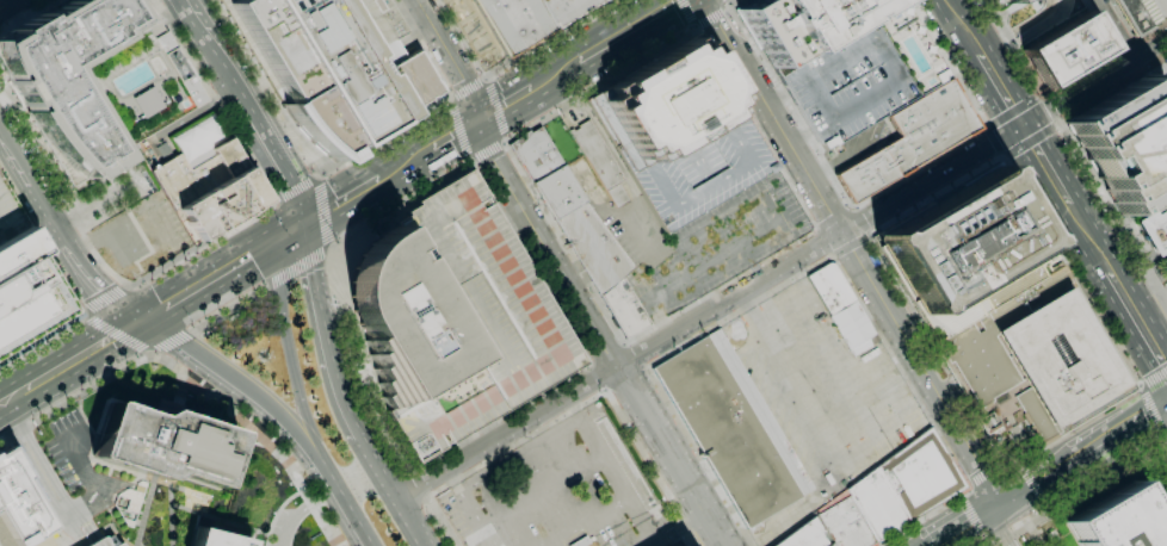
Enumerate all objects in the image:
building: (607, 0)
building: (1012, 1)
road: (729, 2)
road: (10, 6)
building: (1159, 7)
road: (727, 8)
road: (1116, 8)
building: (568, 10)
building: (1148, 11)
road: (687, 12)
road: (26, 15)
building: (1132, 15)
road: (709, 18)
flagpole: (1159, 21)
building: (517, 23)
road: (1099, 25)
flagpole: (1151, 25)
road: (964, 26)
road: (693, 27)
road: (1128, 27)
building: (478, 30)
road: (630, 30)
road: (1023, 30)
road: (1116, 30)
road: (1151, 30)
road: (1136, 39)
road: (1142, 39)
road: (1157, 44)
road: (1126, 48)
road: (420, 49)
building: (1067, 49)
road: (1148, 49)
road: (1017, 50)
building: (172, 52)
road: (1116, 52)
road: (1141, 54)
road: (451, 57)
building: (845, 60)
road: (1155, 60)
road: (1162, 61)
road: (511, 62)
building: (1166, 63)
parking lot: (1166, 63)
building: (333, 66)
road: (1153, 68)
road: (1130, 72)
road: (556, 74)
building: (63, 75)
road: (1075, 75)
road: (483, 79)
road: (486, 80)
road: (1001, 88)
road: (469, 89)
building: (1162, 93)
road: (1104, 95)
road: (212, 100)
road: (450, 100)
building: (146, 103)
road: (506, 104)
road: (252, 108)
road: (495, 108)
road: (1050, 110)
road: (1011, 112)
traffic signals: (480, 119)
traffic signals: (1023, 125)
road: (986, 126)
road: (459, 129)
road: (456, 134)
building: (680, 134)
building: (912, 139)
road: (992, 139)
road: (505, 141)
road: (1030, 142)
building: (1125, 143)
road: (504, 145)
road: (488, 153)
building: (535, 154)
road: (307, 155)
road: (1005, 156)
road: (470, 159)
road: (473, 161)
building: (600, 161)
road: (406, 162)
road: (1046, 165)
parking lot: (704, 170)
road: (317, 176)
road: (320, 176)
building: (209, 179)
road: (33, 182)
road: (297, 188)
building: (557, 191)
road: (877, 192)
railway: (336, 199)
railway: (336, 199)
road: (342, 199)
road: (97, 203)
road: (1147, 206)
road: (851, 207)
road: (1111, 210)
road: (321, 211)
building: (10, 215)
parking lot: (10, 215)
flagpole: (239, 217)
road: (833, 218)
flagpole: (233, 221)
road: (1123, 221)
traffic signals: (305, 222)
road: (858, 222)
flagpole: (226, 225)
road: (814, 228)
road: (816, 229)
building: (1151, 230)
road: (867, 235)
road: (1089, 237)
road: (1132, 241)
traffic signals: (271, 242)
road: (823, 242)
road: (850, 244)
road: (329, 247)
building: (593, 247)
road: (853, 252)
building: (965, 253)
road: (327, 256)
road: (832, 258)
road: (1146, 260)
road: (1154, 260)
road: (234, 263)
road: (883, 263)
road: (104, 265)
road: (295, 269)
road: (1160, 269)
road: (813, 271)
road: (1150, 272)
road: (332, 273)
road: (765, 280)
road: (66, 285)
road: (129, 286)
building: (831, 287)
road: (93, 288)
building: (29, 292)
road: (104, 298)
building: (624, 308)
road: (229, 309)
road: (84, 311)
road: (150, 315)
road: (85, 316)
building: (456, 317)
road: (1137, 321)
traffic signals: (137, 323)
building: (852, 327)
road: (323, 331)
road: (116, 333)
road: (598, 334)
road: (112, 336)
road: (174, 340)
road: (622, 342)
road: (148, 352)
road: (155, 352)
road: (605, 354)
road: (632, 355)
road: (1120, 359)
road: (589, 364)
building: (1035, 364)
road: (296, 366)
road: (644, 368)
road: (45, 377)
road: (597, 377)
road: (623, 378)
road: (799, 378)
road: (1154, 378)
road: (192, 379)
road: (1140, 389)
road: (604, 391)
road: (247, 392)
road: (179, 393)
road: (593, 397)
parking lot: (822, 398)
road: (1, 404)
road: (1151, 409)
building: (733, 428)
road: (1117, 434)
road: (1165, 435)
building: (165, 445)
parking lot: (70, 446)
road: (520, 455)
road: (1027, 463)
road: (1001, 465)
road: (1015, 465)
road: (376, 467)
road: (80, 471)
road: (132, 472)
road: (42, 474)
building: (921, 474)
road: (986, 474)
road: (416, 482)
road: (1066, 482)
road: (617, 484)
road: (1033, 484)
road: (97, 485)
road: (971, 486)
road: (1032, 486)
parking lot: (561, 492)
road: (1081, 494)
road: (427, 495)
building: (135, 496)
road: (959, 500)
building: (18, 502)
building: (877, 504)
road: (302, 507)
road: (468, 507)
road: (172, 509)
road: (1051, 509)
road: (277, 511)
road: (356, 516)
road: (218, 519)
road: (409, 521)
road: (635, 521)
road: (439, 522)
road: (972, 522)
building: (1119, 522)
building: (845, 525)
road: (968, 526)
road: (675, 528)
road: (999, 529)
road: (1029, 532)
building: (805, 536)
building: (216, 539)
building: (105, 541)
parking garage: (105, 541)
building: (580, 541)
building: (831, 545)
road: (986, 545)

